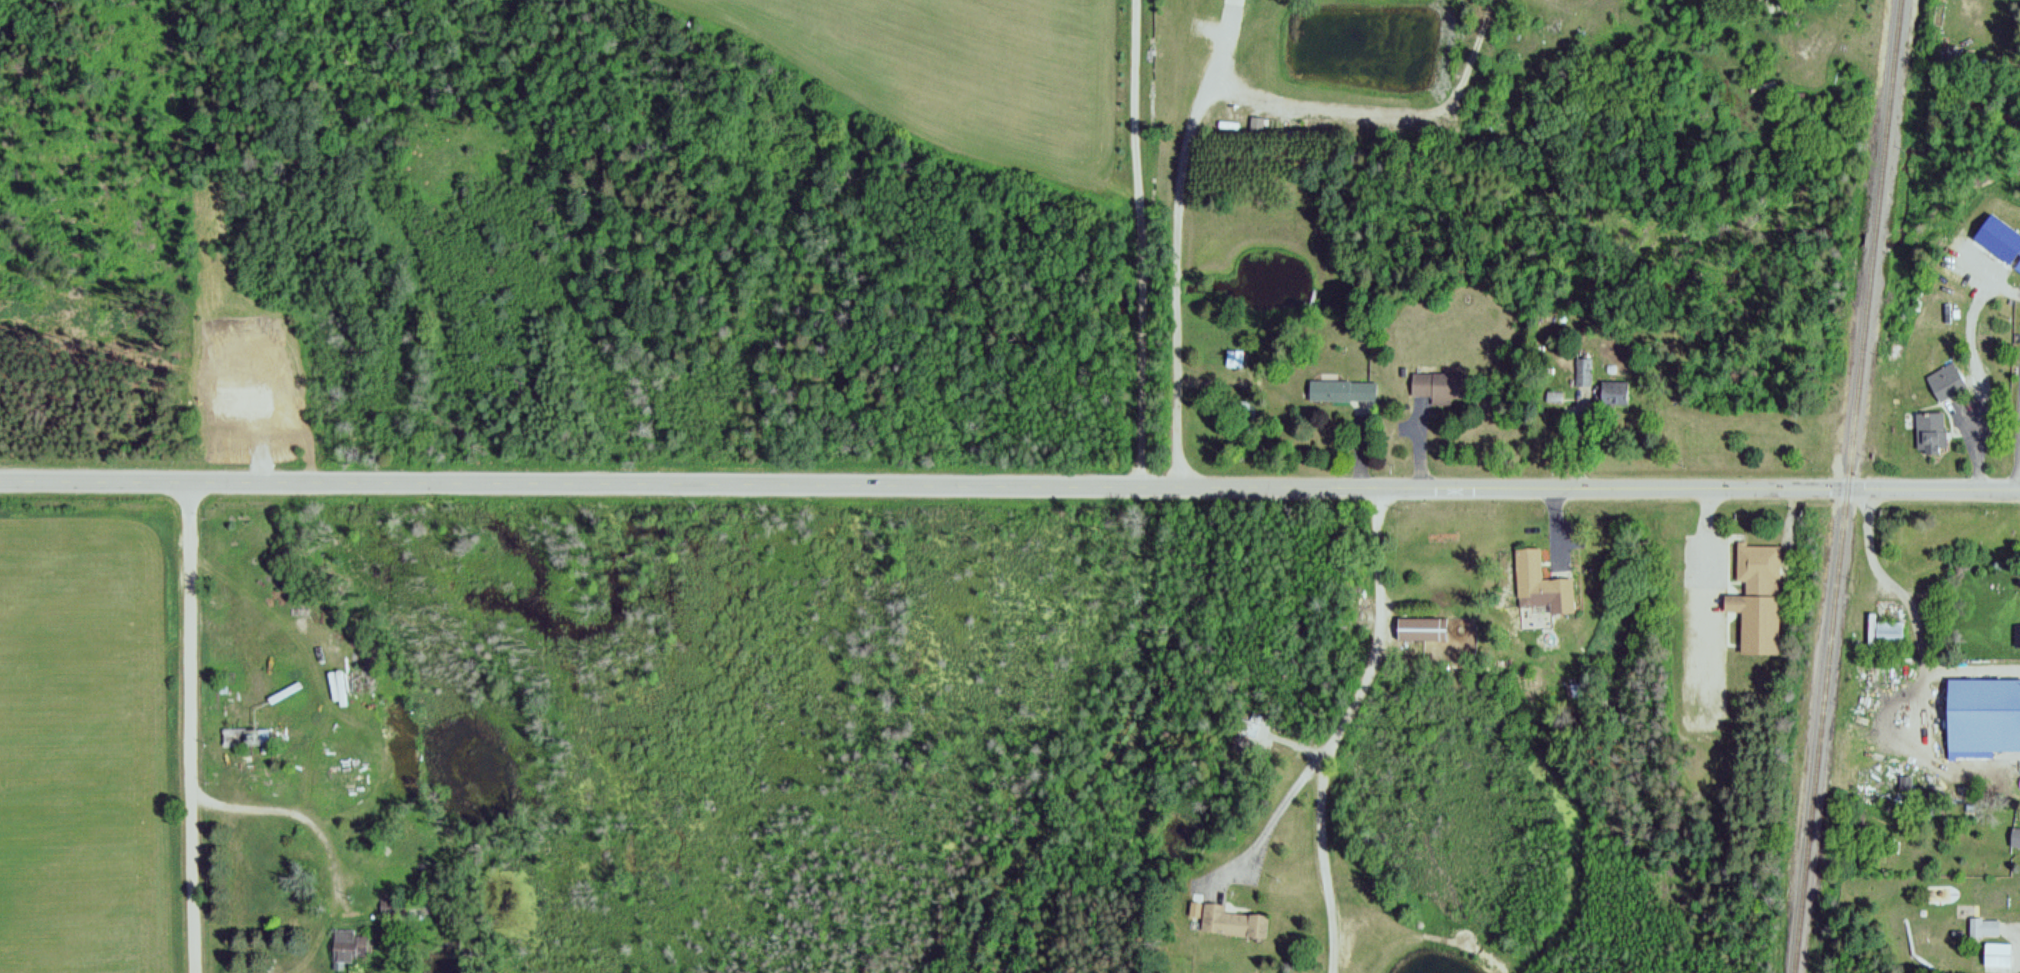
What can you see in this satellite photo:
road: (1219, 44)
road: (1199, 106)
building: (2018, 244)
building: (2017, 261)
building: (2017, 267)
road: (1987, 276)
building: (1233, 355)
building: (1581, 367)
building: (1400, 368)
building: (1943, 376)
road: (1981, 380)
building: (1438, 382)
building: (1341, 385)
building: (1609, 390)
building: (1550, 392)
building: (1928, 426)
road: (2019, 426)
road: (1010, 486)
railway: (1844, 486)
building: (1545, 581)
road: (1703, 593)
building: (1757, 594)
building: (1421, 625)
building: (1889, 627)
building: (2016, 630)
road: (1919, 667)
road: (1970, 667)
road: (1352, 694)
building: (1982, 711)
road: (193, 726)
building: (231, 738)
building: (2019, 779)
building: (2014, 831)
road: (1320, 866)
building: (1233, 919)
building: (1979, 922)
road: (2011, 933)
building: (346, 949)
building: (1997, 949)

